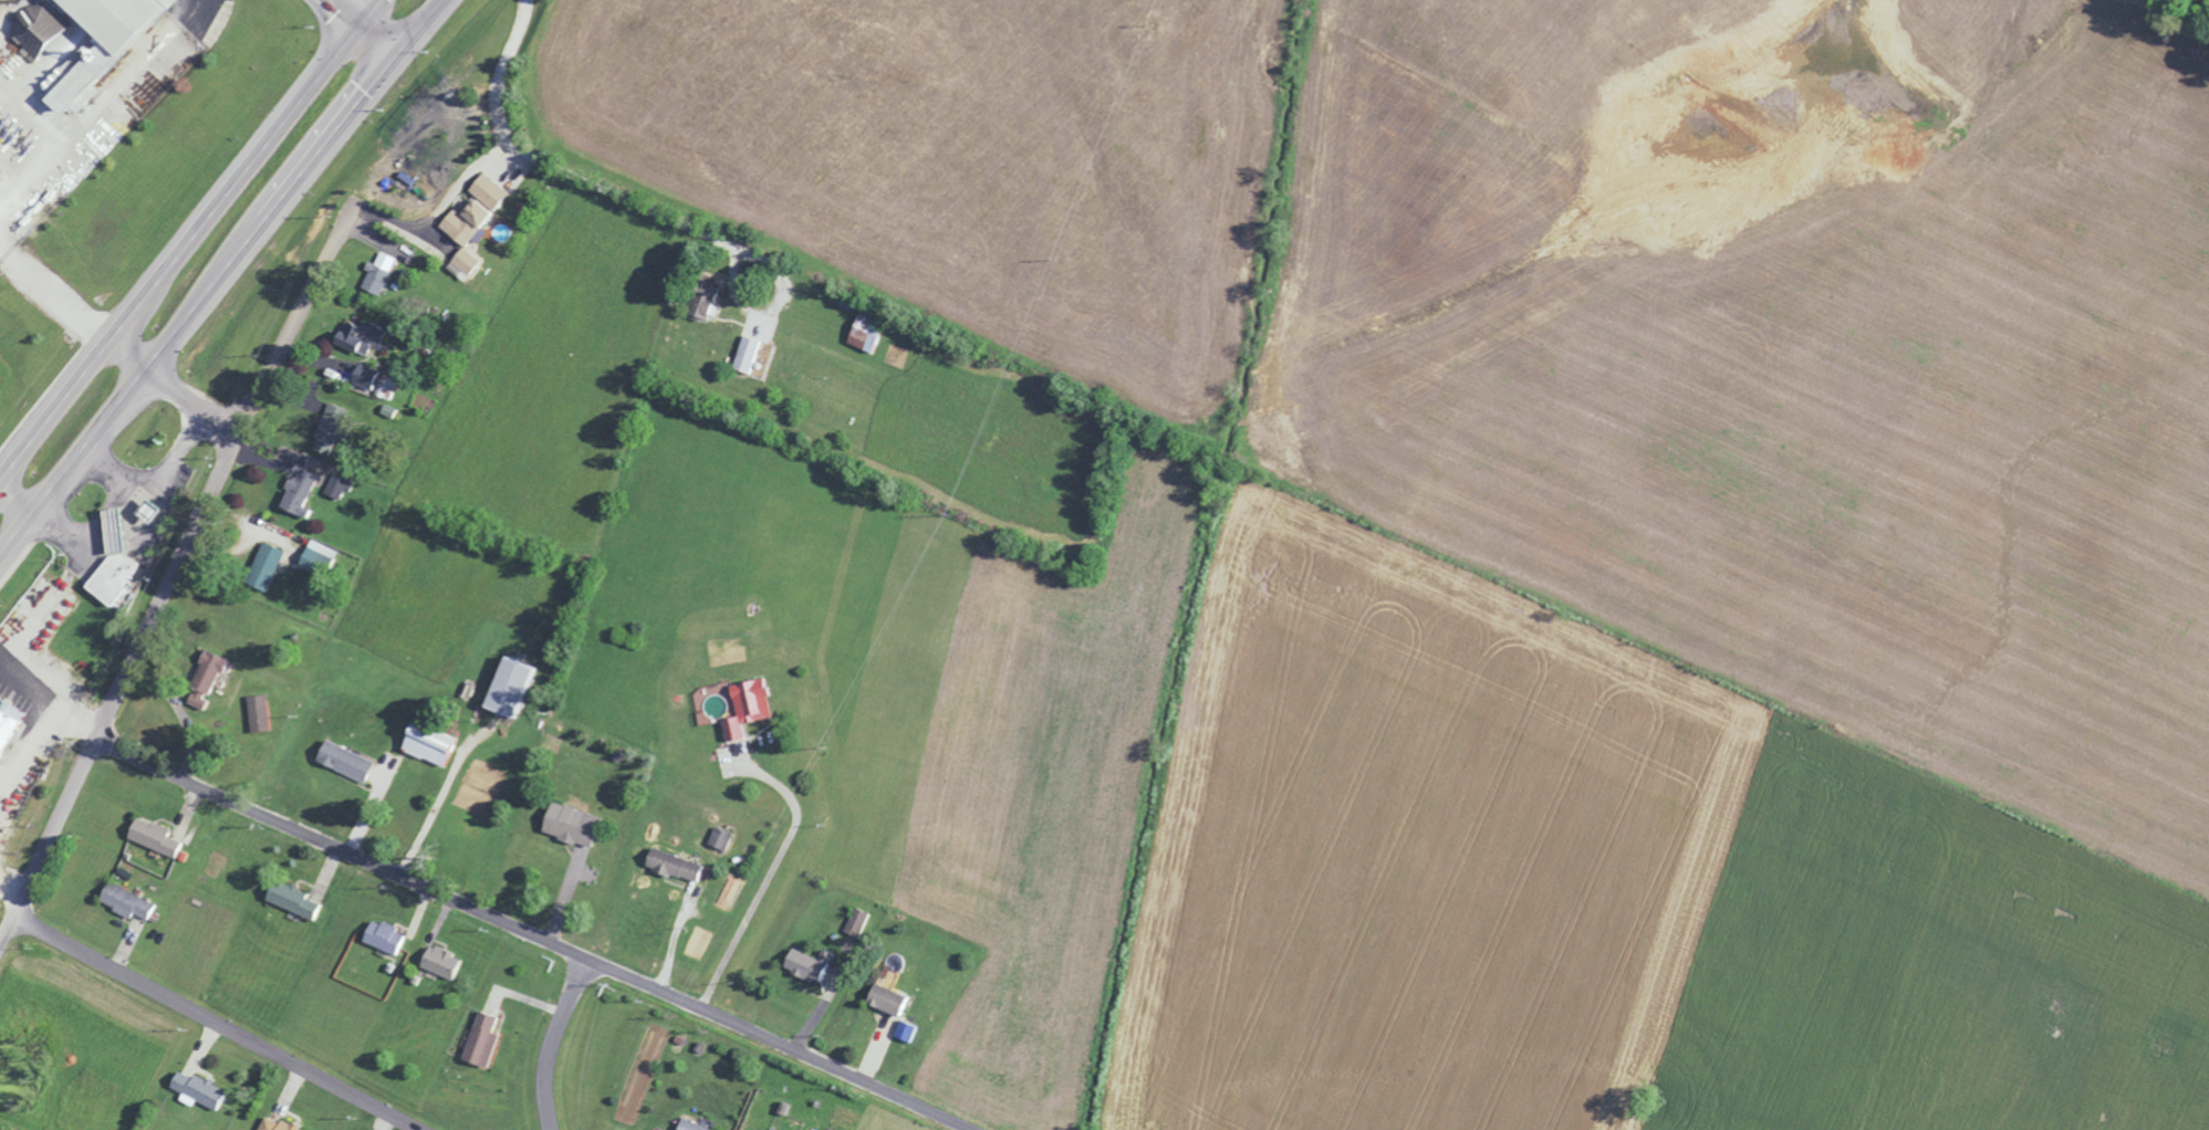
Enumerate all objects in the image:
building: (35, 29)
road: (360, 31)
building: (97, 39)
road: (100, 106)
road: (550, 165)
building: (472, 209)
road: (186, 234)
building: (465, 261)
building: (377, 273)
road: (221, 278)
road: (52, 294)
building: (701, 296)
road: (770, 307)
building: (864, 333)
building: (363, 336)
building: (744, 354)
building: (363, 376)
road: (173, 383)
building: (327, 428)
building: (337, 485)
building: (295, 493)
road: (18, 502)
building: (316, 556)
building: (110, 562)
building: (262, 566)
road: (173, 573)
building: (202, 678)
building: (504, 687)
building: (746, 708)
building: (256, 713)
road: (46, 715)
building: (7, 721)
building: (426, 744)
building: (343, 761)
road: (436, 808)
building: (569, 824)
building: (150, 837)
building: (719, 838)
building: (671, 864)
road: (772, 872)
road: (10, 890)
building: (290, 899)
building: (124, 901)
building: (856, 920)
road: (533, 934)
building: (383, 937)
building: (438, 961)
building: (802, 963)
building: (884, 997)
road: (213, 1023)
building: (905, 1029)
road: (549, 1039)
building: (478, 1042)
building: (196, 1089)
building: (273, 1123)
building: (689, 1124)

